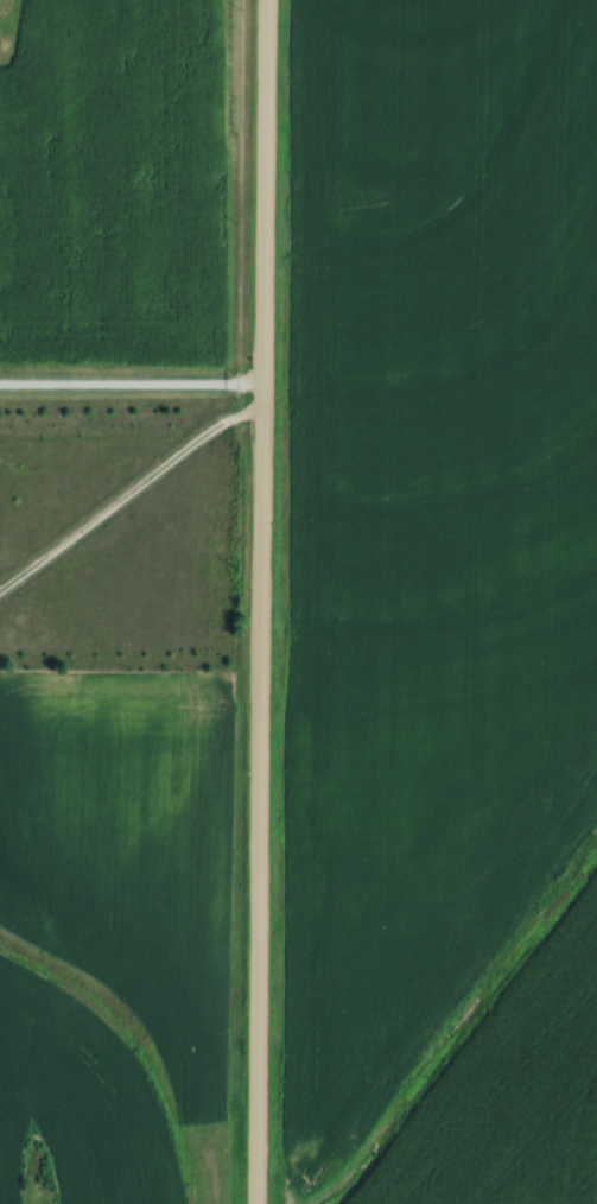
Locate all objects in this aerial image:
road: (132, 388)
road: (127, 486)
road: (260, 601)

